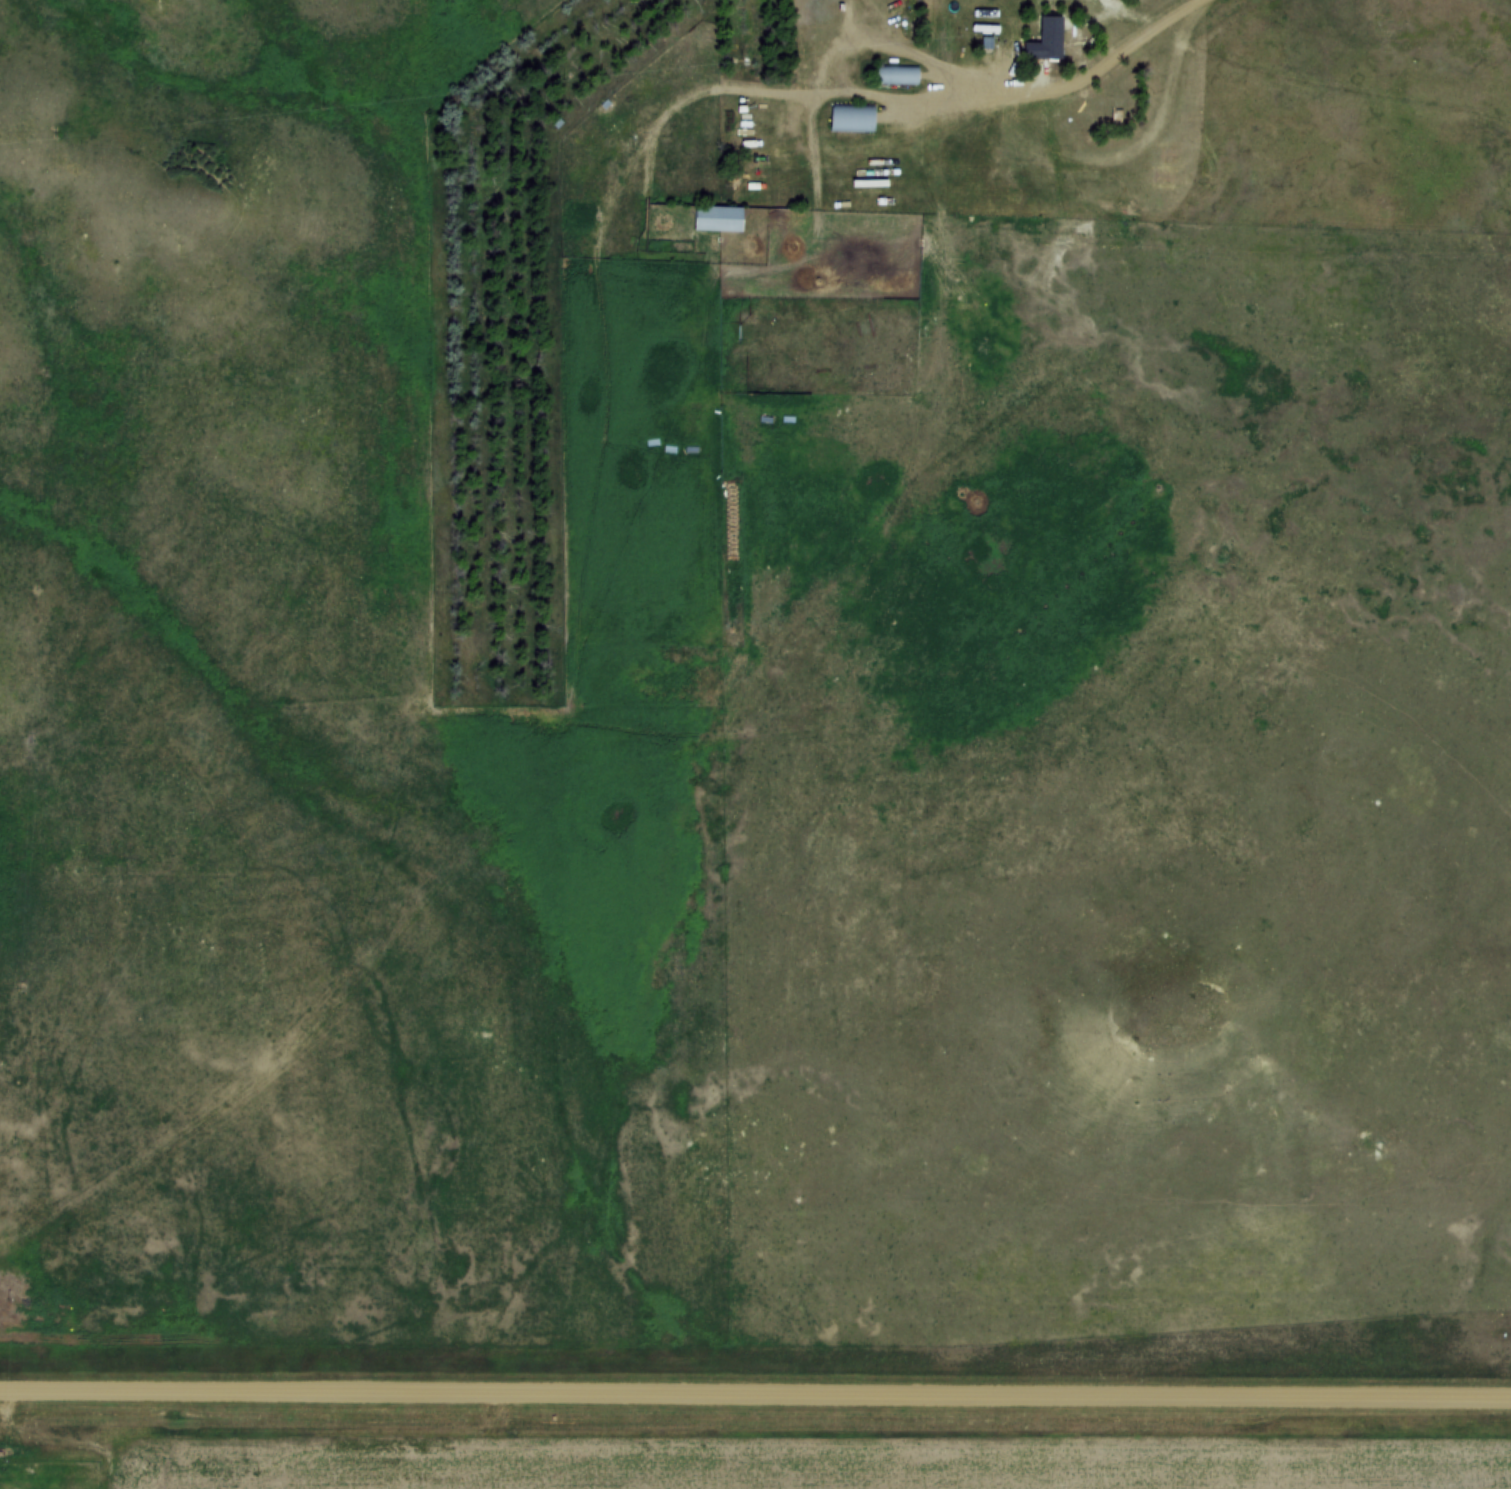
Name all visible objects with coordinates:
building: (1046, 47)
building: (898, 77)
building: (853, 119)
building: (719, 221)
building: (820, 464)
road: (755, 1393)

